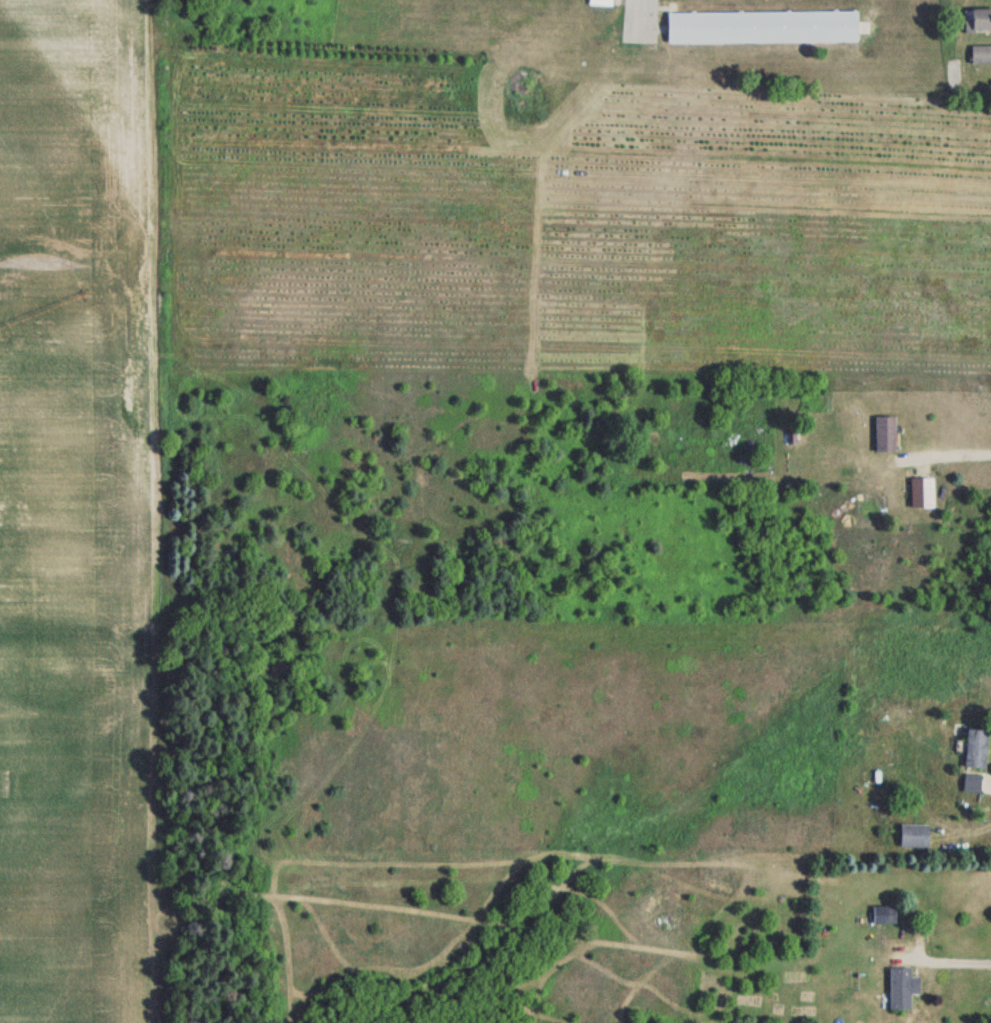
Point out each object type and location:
building: (603, 2)
road: (636, 2)
building: (981, 20)
building: (764, 26)
building: (982, 55)
building: (884, 431)
road: (949, 459)
building: (921, 491)
building: (974, 745)
building: (970, 782)
building: (913, 834)
road: (948, 962)
building: (900, 986)

